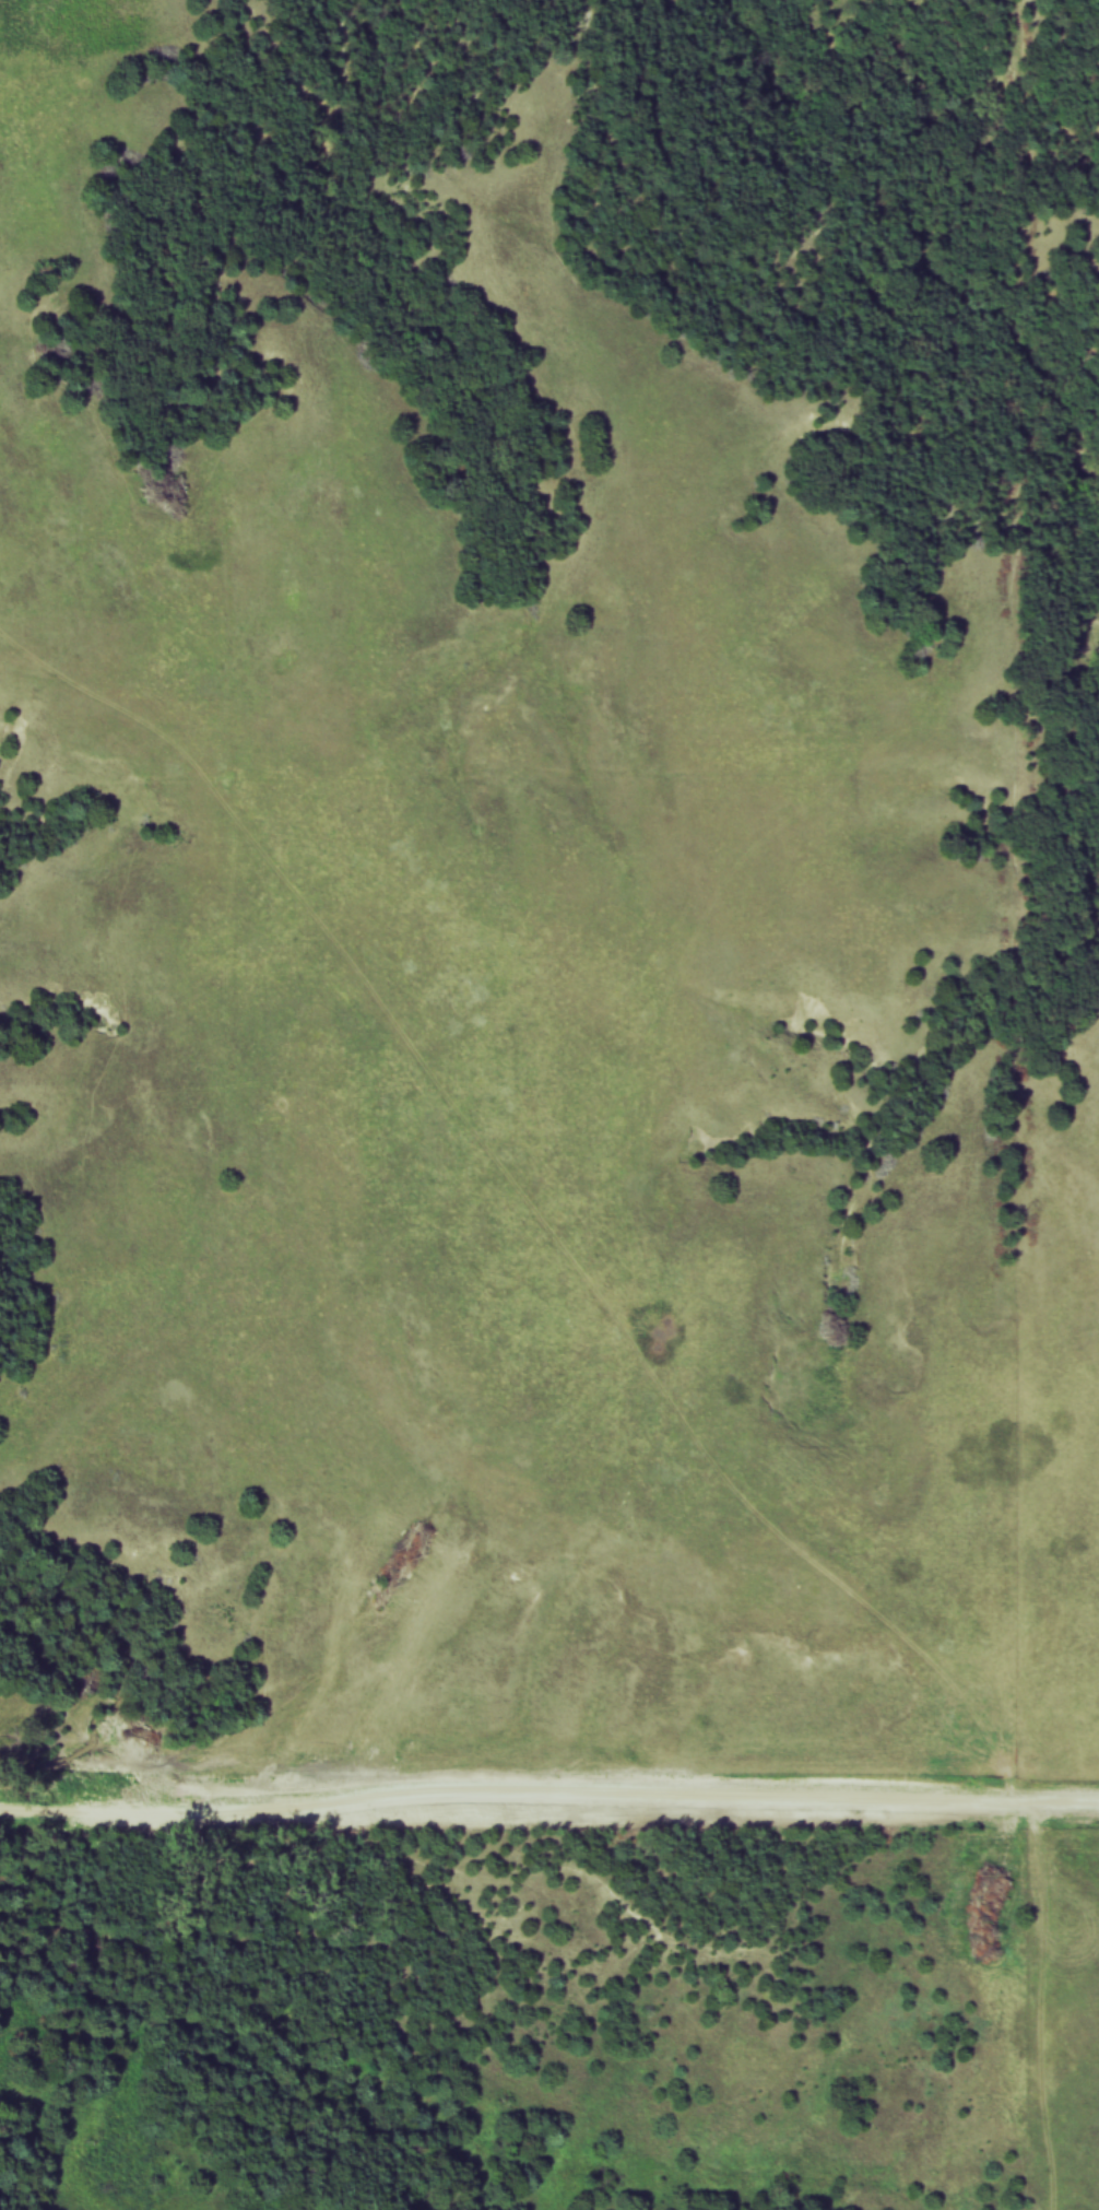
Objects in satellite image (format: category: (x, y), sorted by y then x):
road: (548, 1799)

